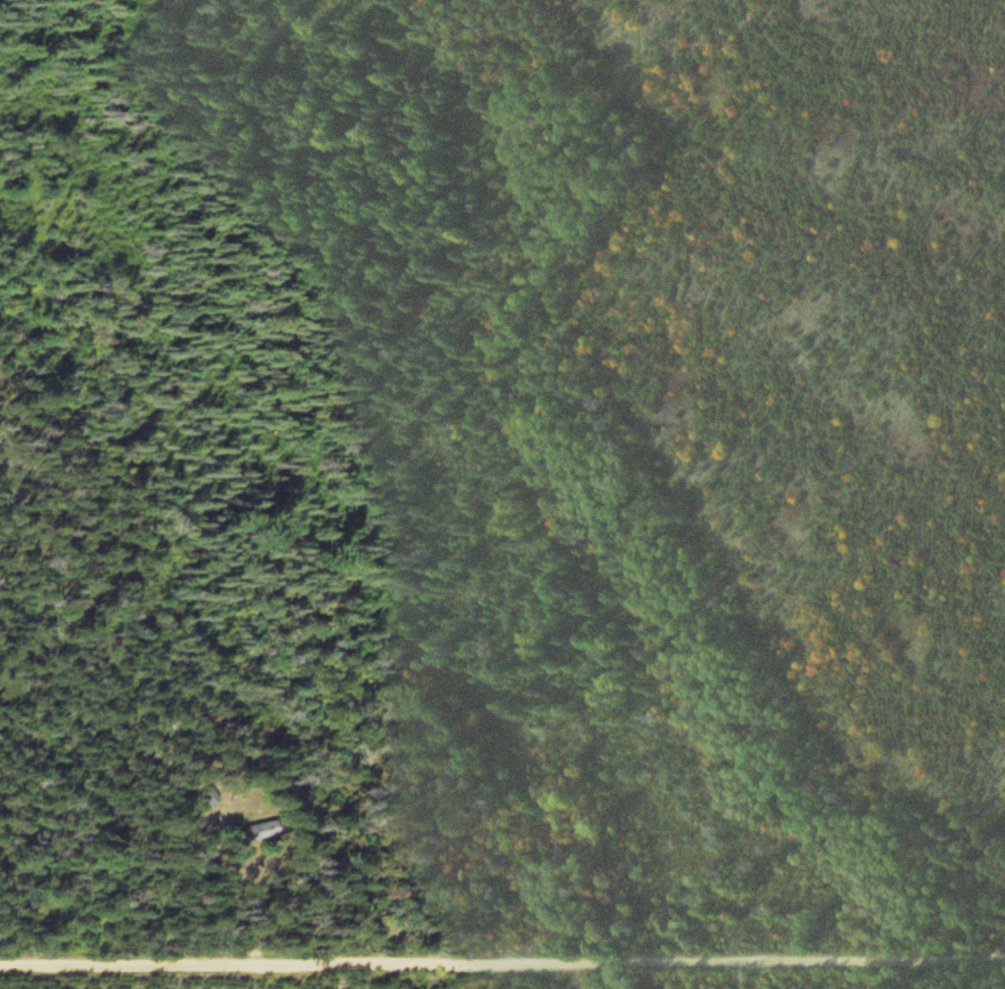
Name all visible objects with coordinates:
building: (210, 799)
building: (260, 834)
road: (359, 914)
road: (502, 961)

